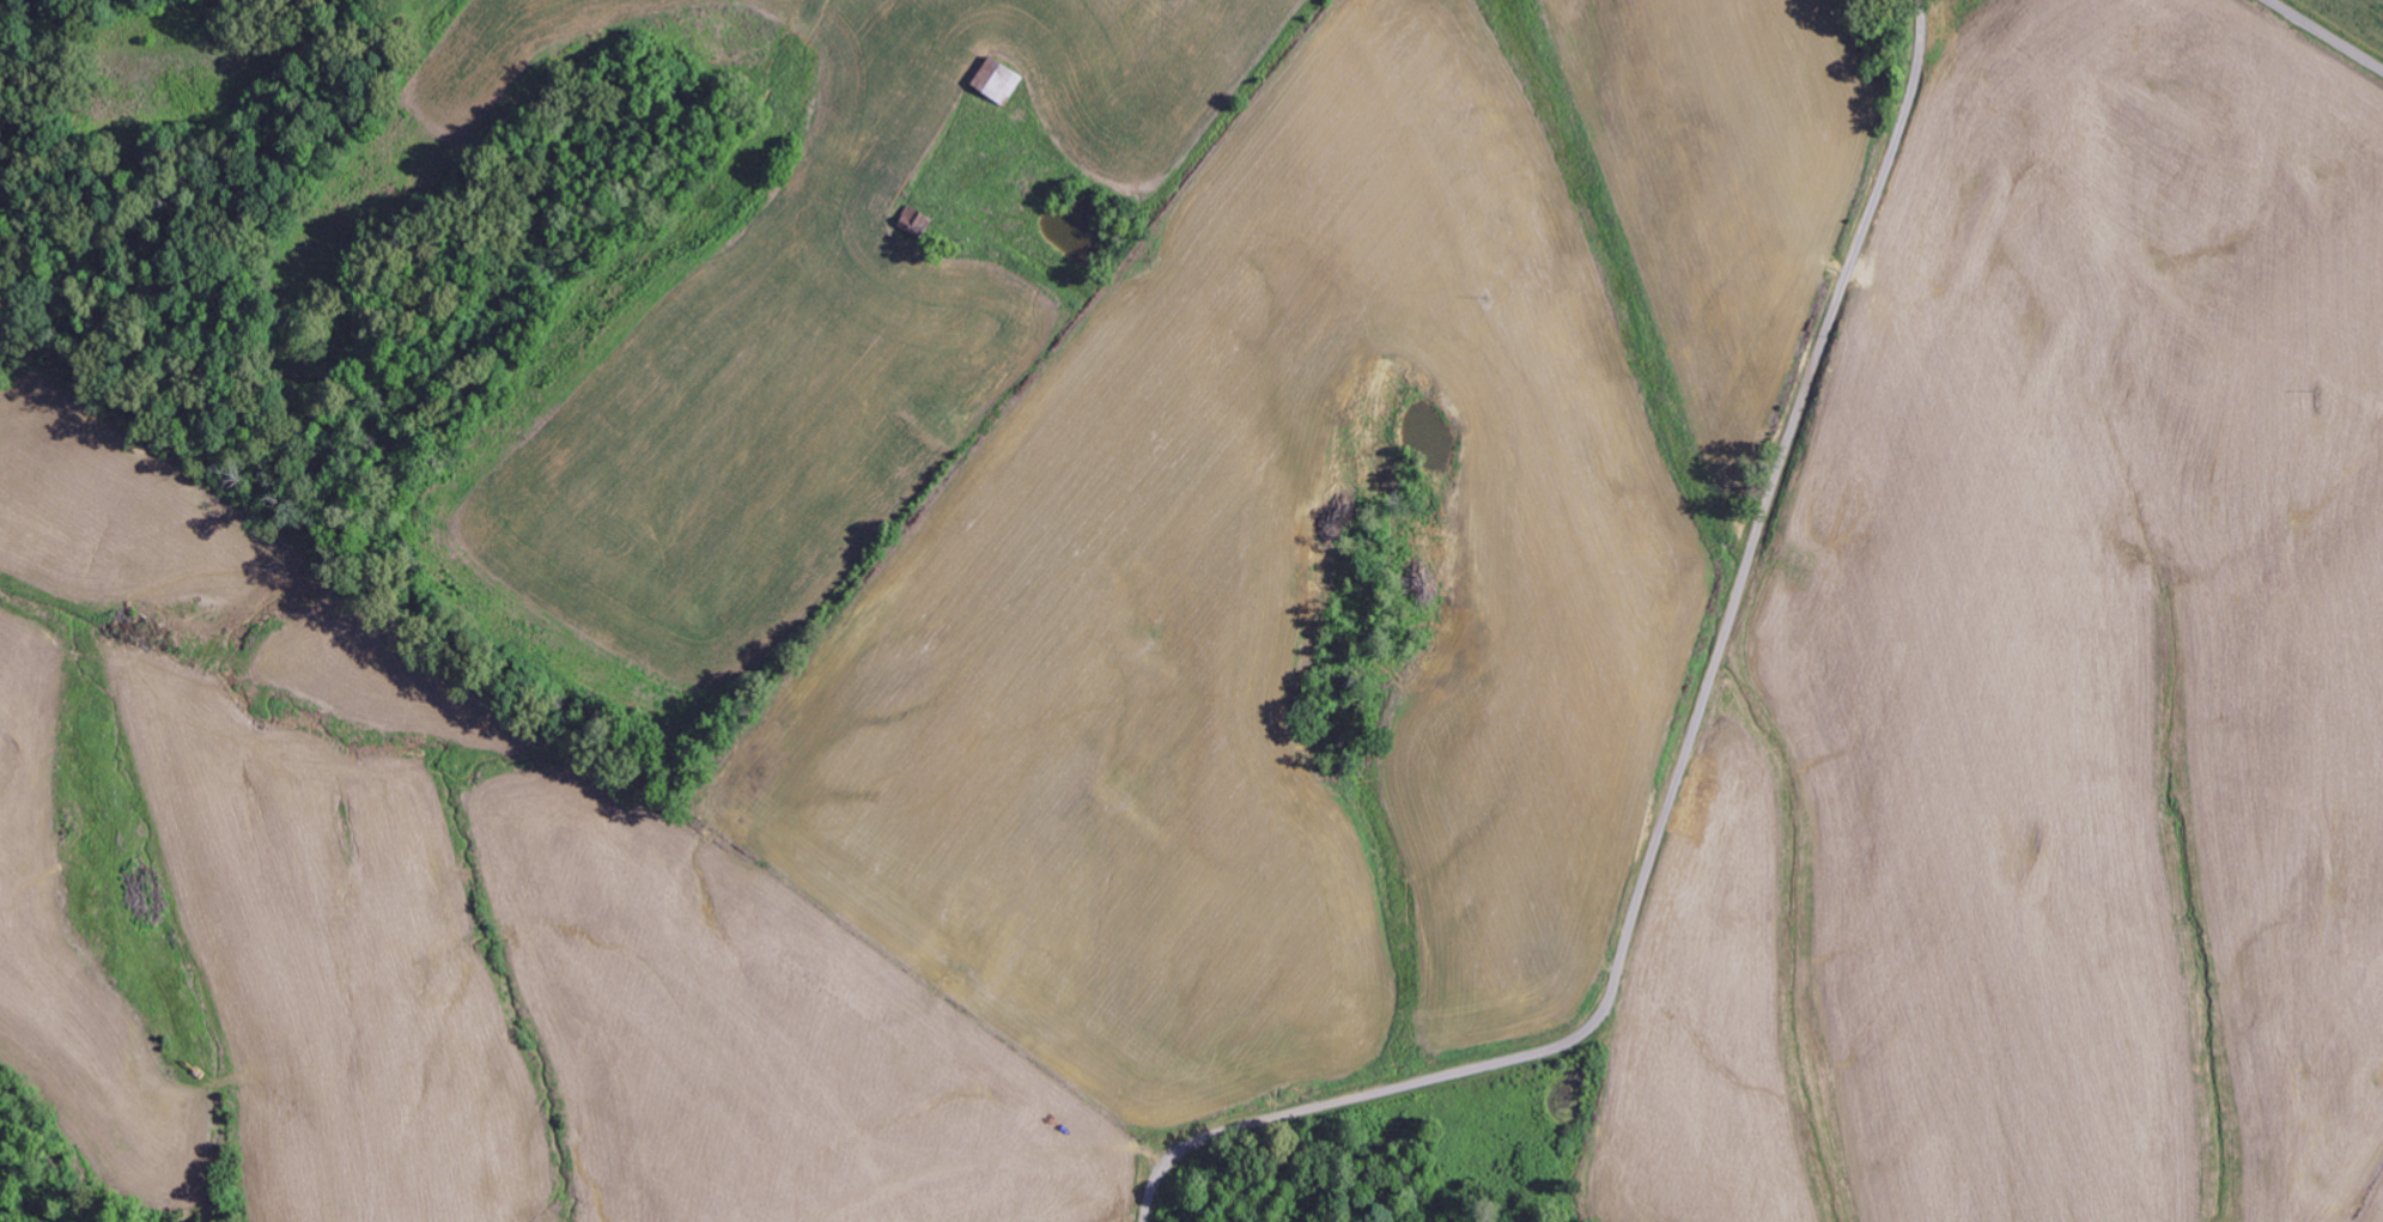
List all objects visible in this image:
road: (2323, 35)
building: (1004, 80)
road: (1686, 758)

